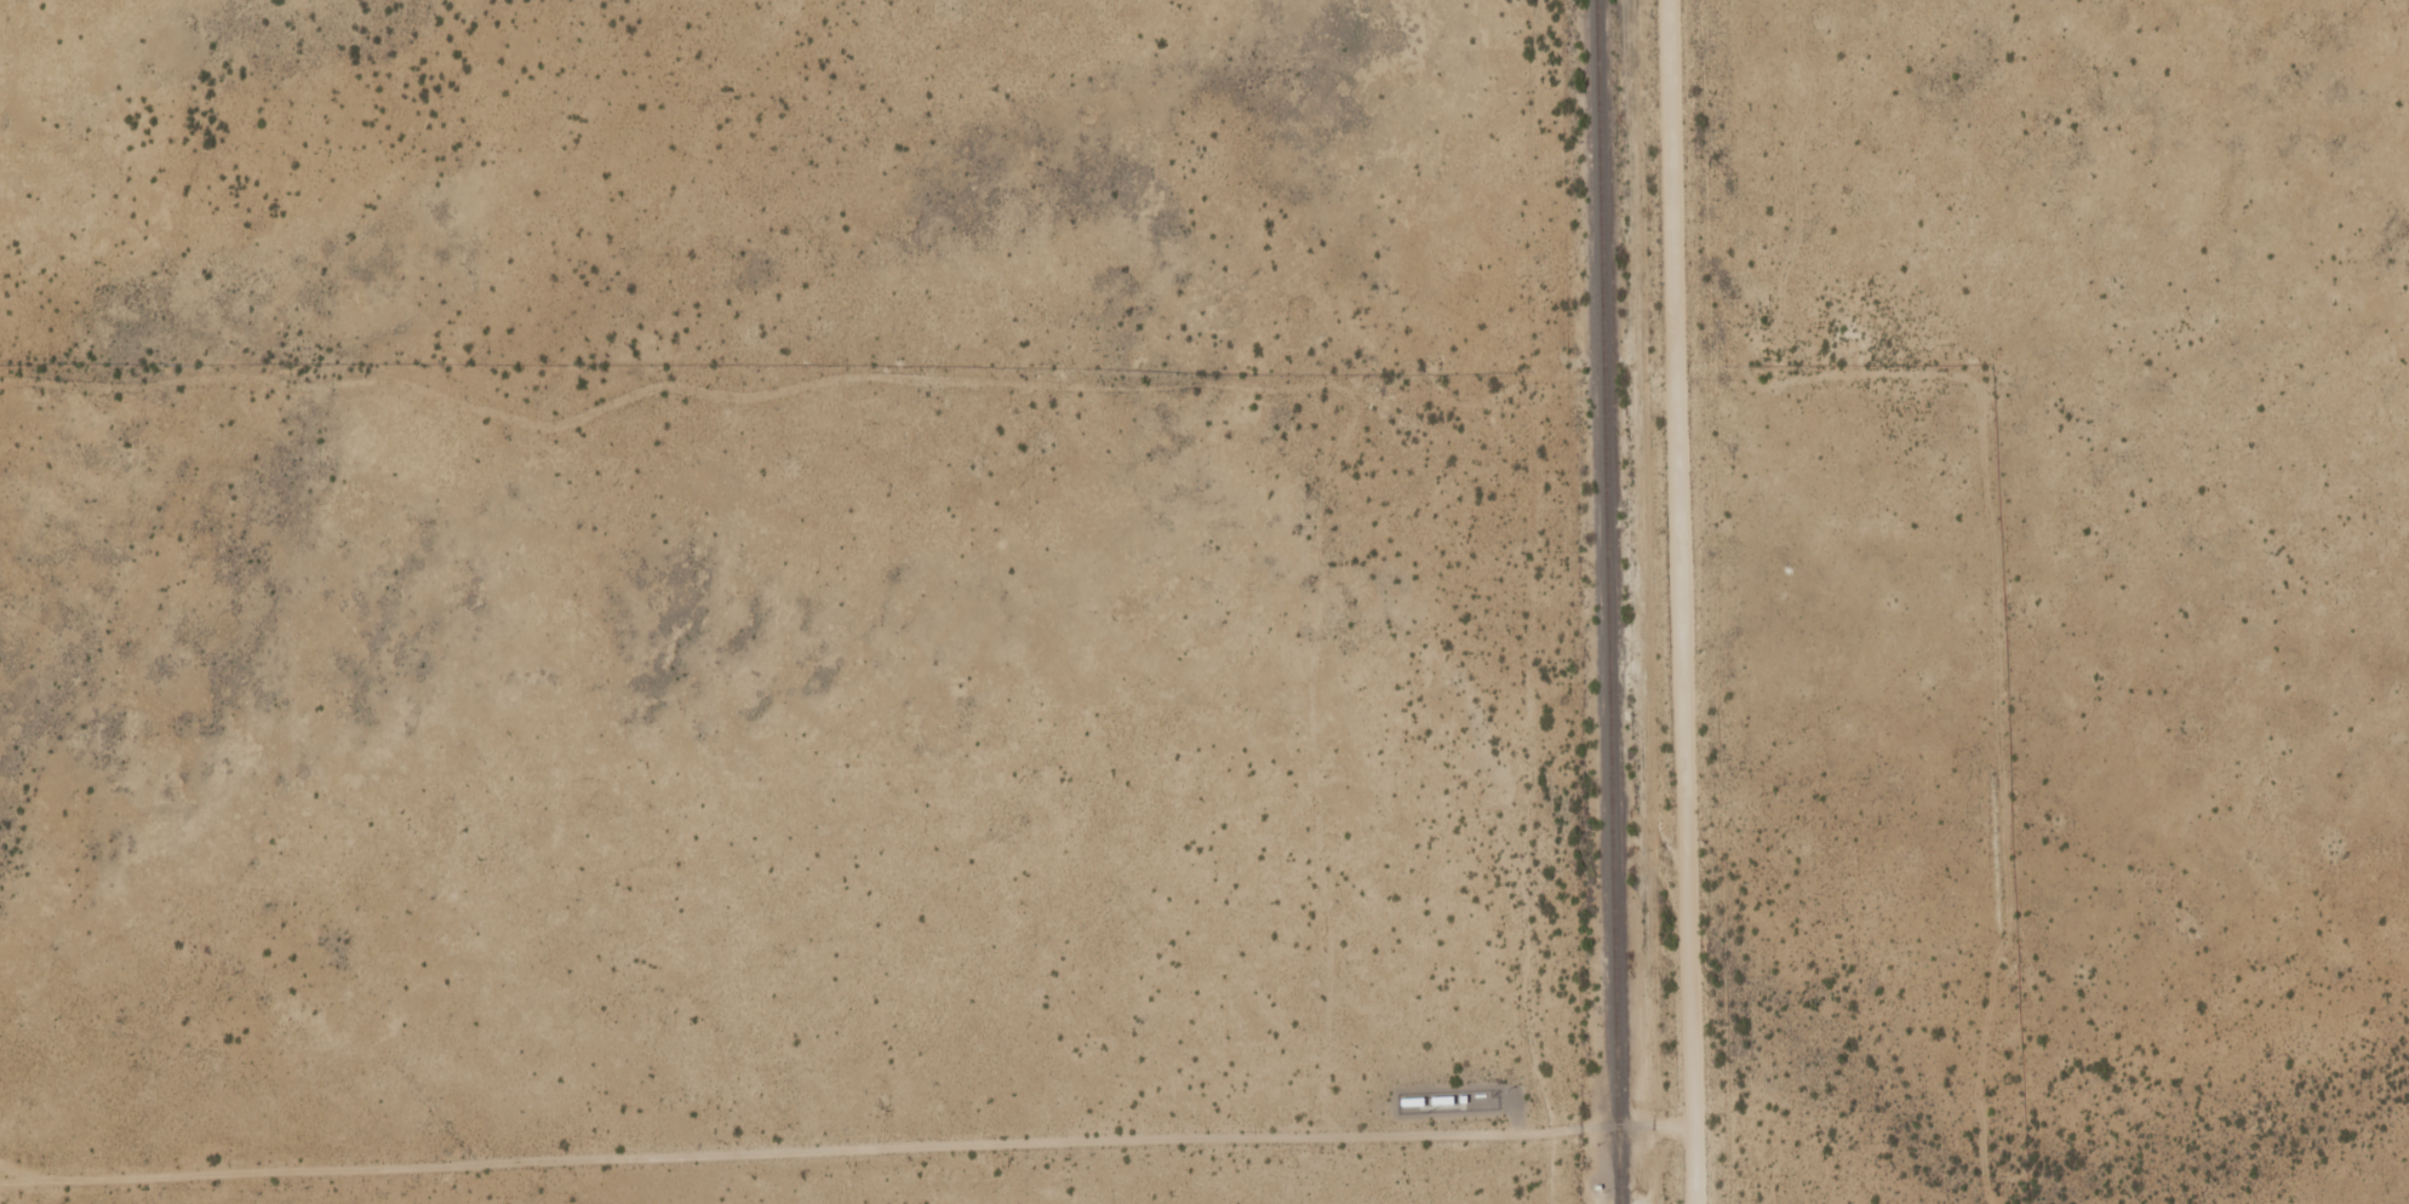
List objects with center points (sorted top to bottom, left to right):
road: (1454, 568)
railway: (1608, 601)
road: (1682, 602)
road: (846, 1141)

